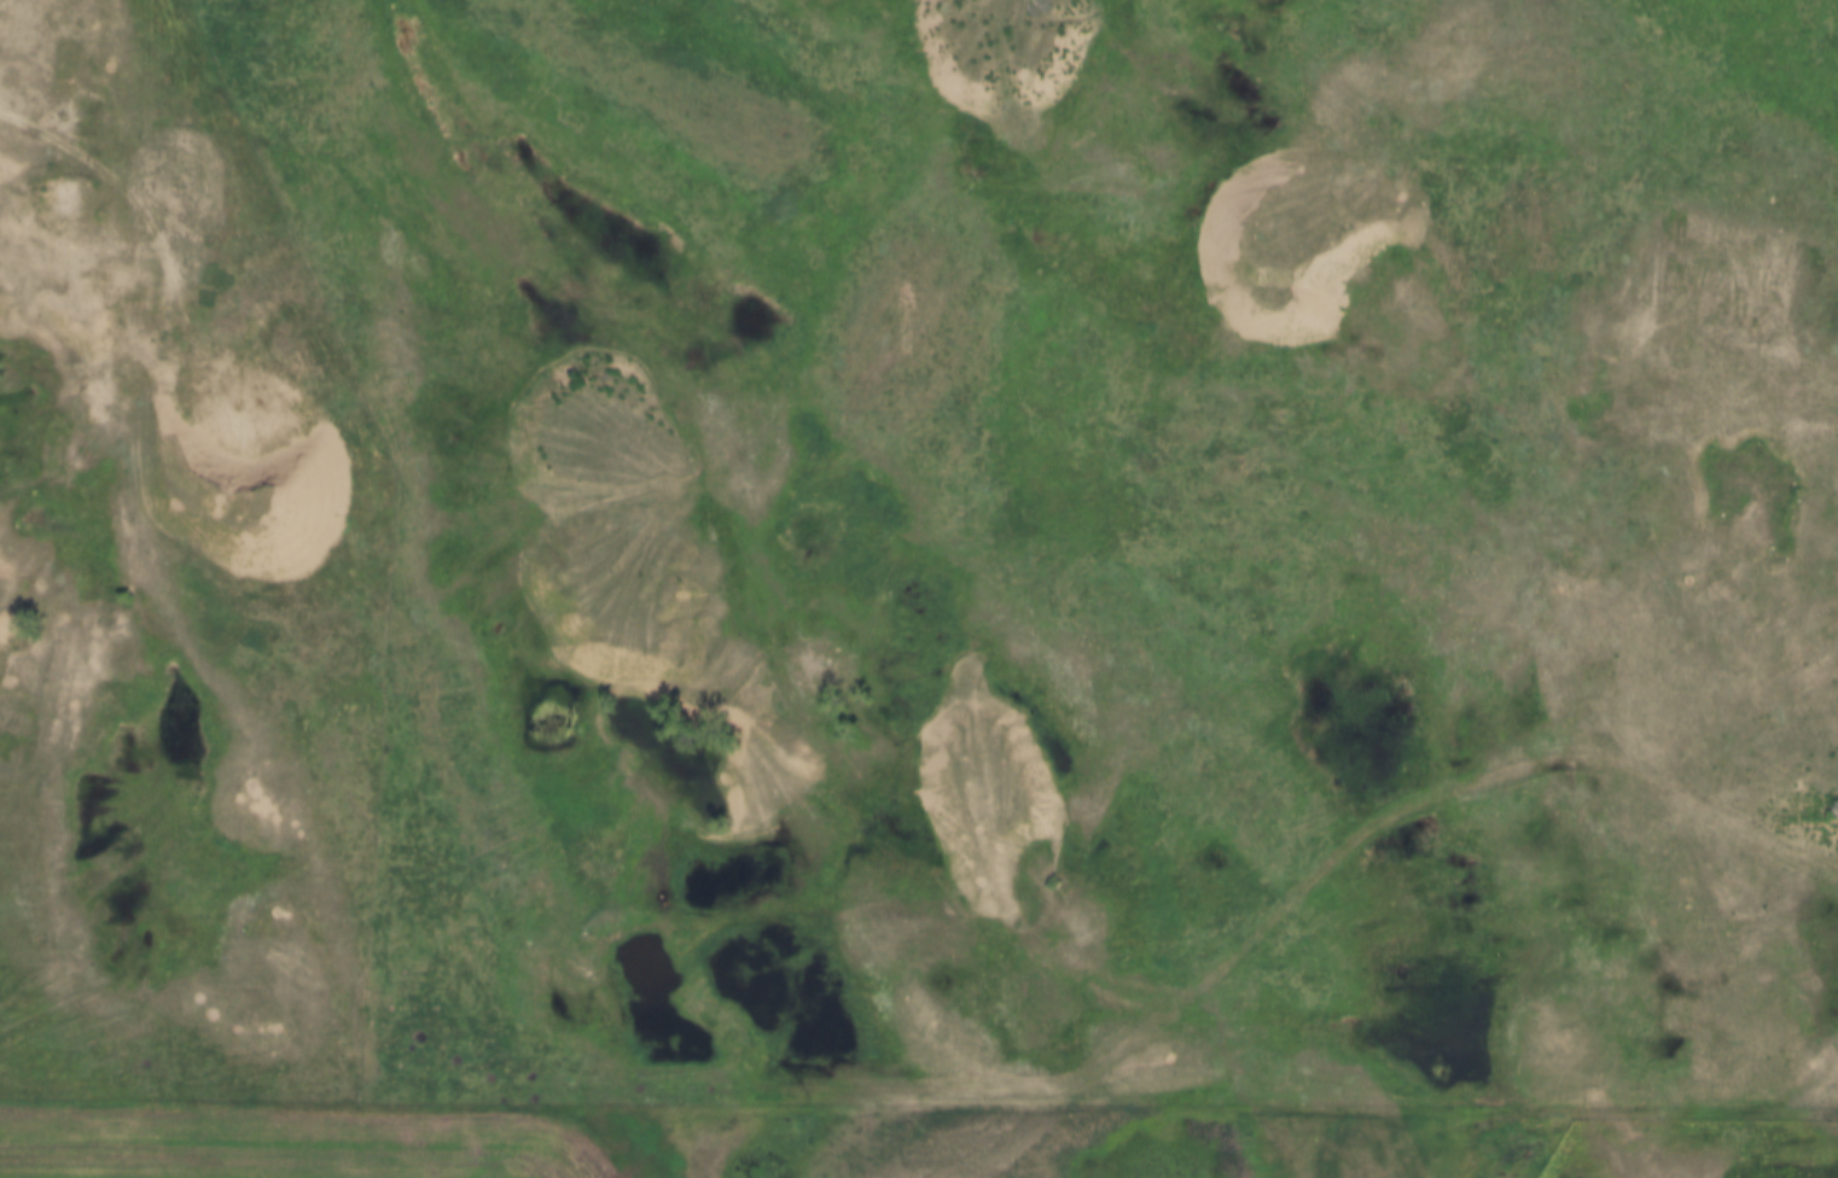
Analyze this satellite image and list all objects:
quarry: (136, 390)

